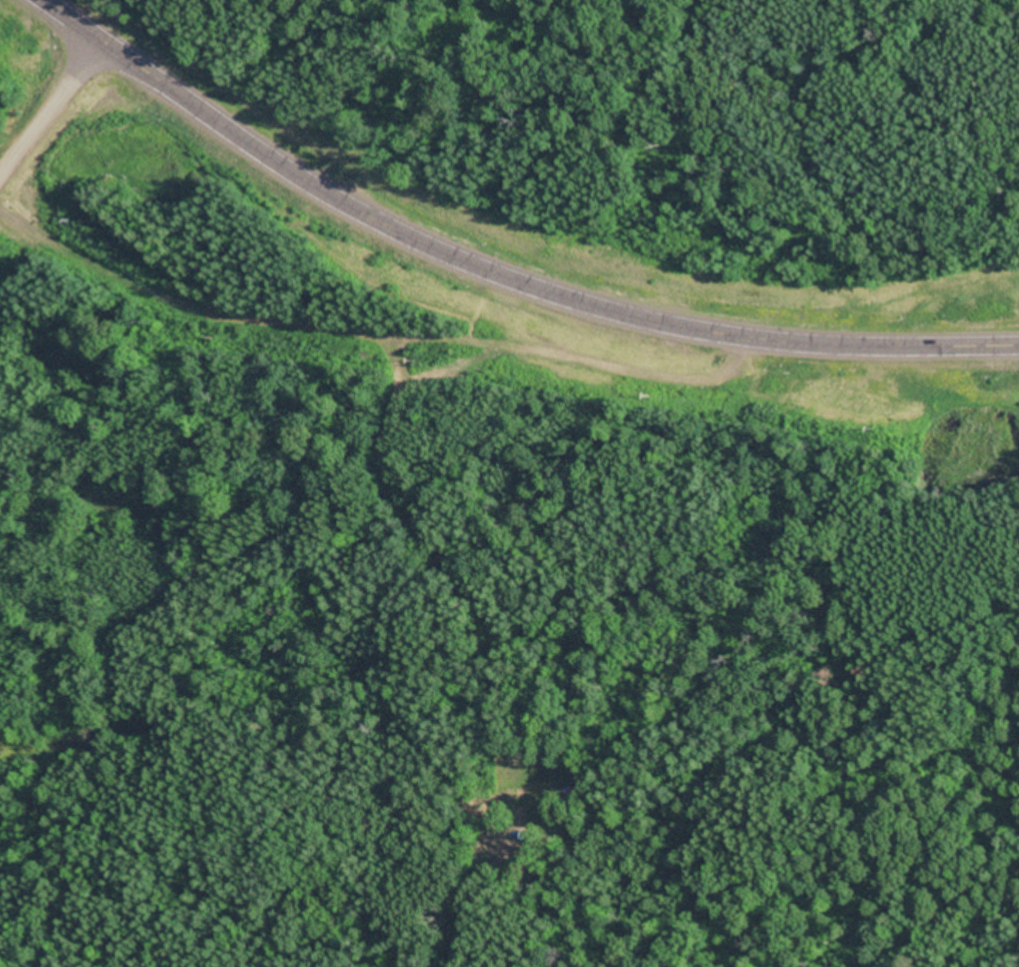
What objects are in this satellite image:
road: (59, 113)
road: (498, 262)

